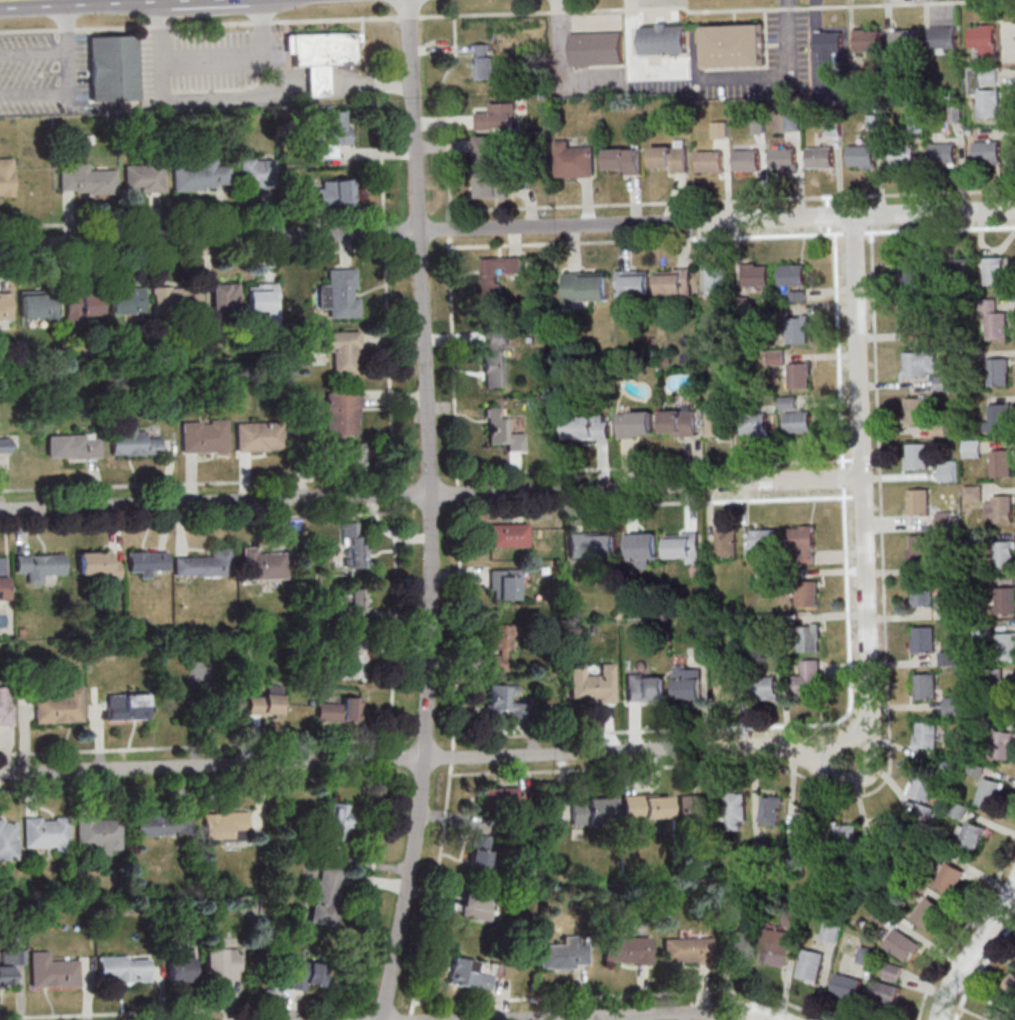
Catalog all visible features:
road: (706, 10)
road: (411, 17)
road: (200, 24)
building: (943, 38)
building: (904, 39)
building: (986, 39)
building: (662, 40)
building: (868, 40)
building: (735, 46)
building: (325, 49)
building: (596, 49)
building: (828, 49)
road: (35, 55)
building: (484, 61)
road: (214, 62)
building: (114, 68)
road: (71, 82)
building: (989, 103)
building: (496, 116)
building: (719, 129)
building: (333, 134)
building: (490, 145)
building: (989, 151)
building: (944, 153)
building: (901, 154)
building: (820, 156)
building: (861, 156)
building: (669, 157)
building: (783, 158)
building: (747, 159)
building: (573, 160)
building: (623, 160)
building: (710, 161)
building: (258, 173)
building: (6, 176)
building: (203, 176)
building: (144, 178)
building: (88, 180)
building: (493, 187)
building: (336, 192)
road: (859, 215)
road: (342, 234)
building: (957, 269)
building: (994, 270)
building: (910, 272)
building: (792, 273)
building: (497, 274)
building: (756, 274)
building: (717, 279)
building: (674, 282)
building: (633, 283)
building: (586, 286)
building: (340, 294)
building: (263, 297)
building: (225, 298)
building: (127, 300)
building: (176, 301)
building: (83, 304)
building: (38, 305)
building: (5, 306)
building: (914, 314)
building: (994, 321)
building: (798, 329)
building: (340, 349)
building: (496, 358)
building: (926, 368)
building: (998, 371)
building: (800, 375)
road: (391, 377)
road: (428, 379)
building: (916, 411)
building: (343, 412)
building: (999, 418)
building: (798, 420)
building: (716, 422)
building: (679, 423)
building: (755, 423)
building: (636, 424)
building: (587, 427)
building: (503, 430)
building: (205, 436)
building: (257, 436)
building: (134, 442)
building: (4, 445)
building: (73, 445)
building: (973, 448)
building: (355, 456)
building: (917, 456)
building: (1002, 462)
road: (660, 465)
building: (947, 471)
road: (862, 474)
road: (836, 479)
road: (760, 482)
road: (347, 497)
road: (661, 502)
building: (918, 502)
building: (1003, 508)
road: (460, 512)
building: (509, 535)
building: (764, 539)
building: (803, 541)
building: (726, 543)
building: (353, 545)
building: (593, 545)
building: (683, 547)
building: (920, 548)
building: (640, 549)
building: (1004, 554)
building: (148, 563)
building: (205, 564)
building: (264, 564)
building: (39, 566)
building: (97, 566)
building: (504, 584)
building: (806, 593)
building: (923, 594)
building: (1005, 599)
building: (357, 603)
building: (810, 637)
building: (924, 638)
building: (1007, 645)
building: (499, 647)
building: (352, 657)
road: (849, 662)
building: (808, 678)
building: (688, 682)
building: (593, 684)
building: (726, 685)
building: (925, 685)
building: (646, 687)
building: (763, 687)
building: (1004, 693)
building: (504, 701)
building: (215, 702)
building: (266, 702)
building: (952, 705)
building: (5, 706)
building: (60, 706)
building: (128, 707)
building: (340, 710)
road: (887, 721)
building: (926, 734)
road: (828, 743)
road: (867, 744)
building: (1003, 744)
road: (194, 746)
road: (756, 747)
road: (353, 761)
road: (832, 775)
road: (193, 782)
building: (921, 787)
building: (989, 792)
building: (508, 798)
building: (647, 806)
building: (593, 809)
building: (692, 809)
building: (770, 809)
building: (735, 812)
building: (157, 824)
building: (339, 824)
building: (225, 825)
building: (804, 826)
building: (888, 826)
building: (46, 832)
building: (99, 832)
building: (844, 834)
building: (969, 835)
building: (8, 839)
building: (480, 852)
building: (949, 878)
road: (371, 880)
road: (406, 889)
building: (326, 895)
road: (1009, 902)
building: (478, 906)
building: (928, 912)
building: (792, 918)
road: (963, 927)
building: (830, 931)
building: (902, 944)
building: (741, 946)
building: (776, 947)
road: (975, 948)
building: (627, 950)
building: (687, 950)
building: (563, 955)
building: (866, 955)
building: (221, 963)
building: (9, 965)
building: (811, 965)
building: (180, 966)
building: (124, 968)
road: (979, 968)
building: (52, 971)
building: (893, 971)
building: (306, 974)
building: (469, 974)
building: (1010, 985)
building: (847, 986)
building: (886, 992)
road: (625, 993)
road: (173, 1010)
road: (753, 1014)
building: (998, 1014)
road: (577, 1016)

